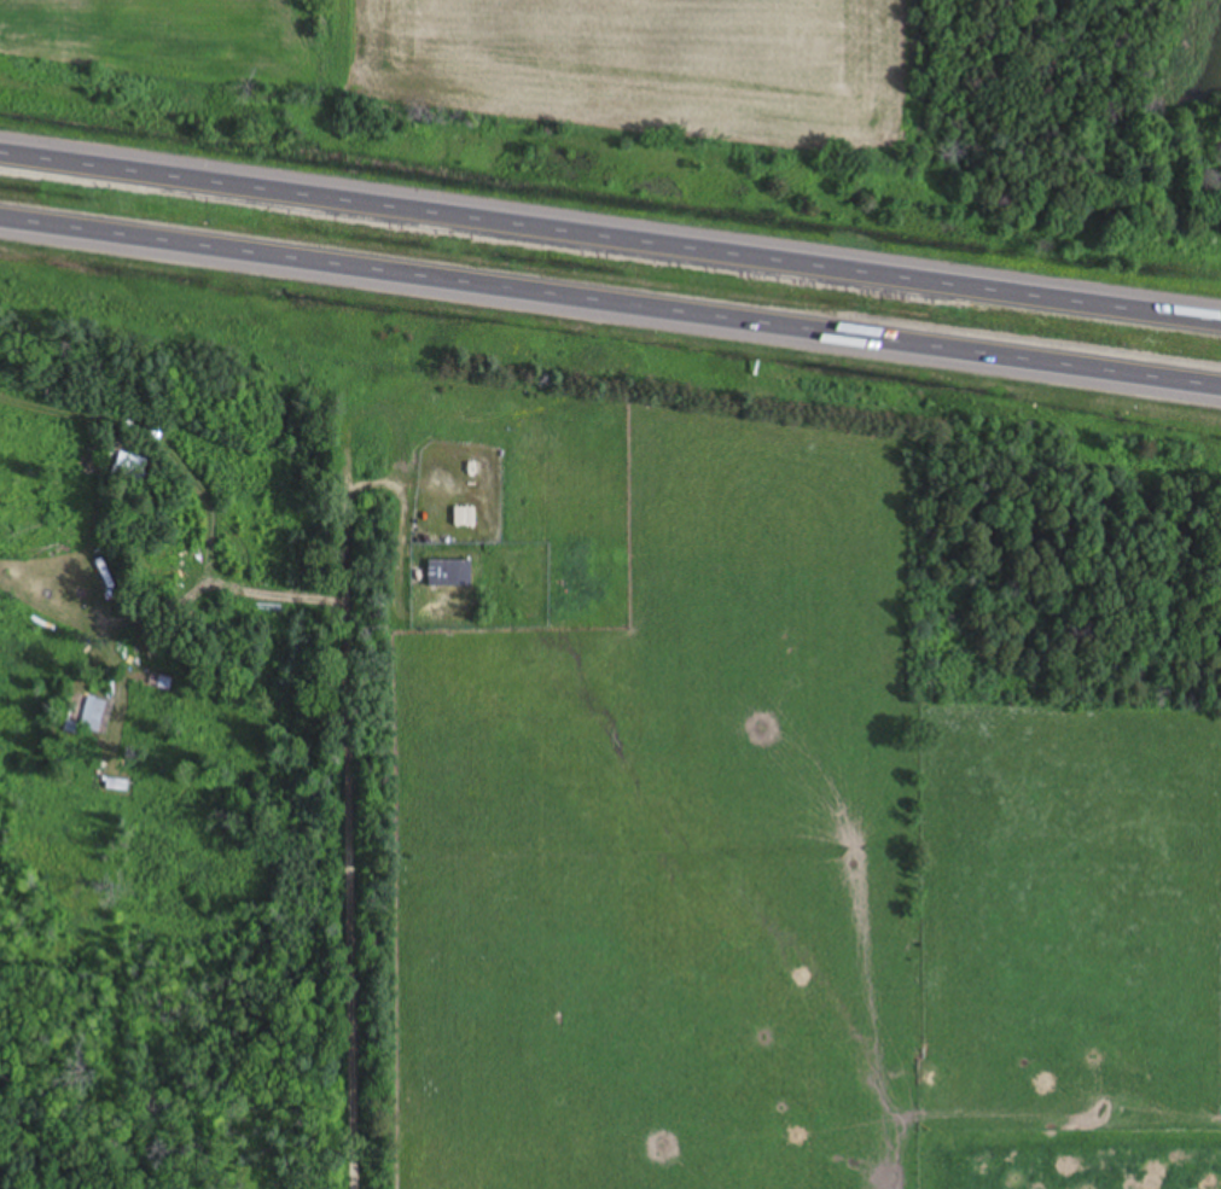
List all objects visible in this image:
crop: (530, 58)
road: (610, 232)
road: (610, 313)
building: (464, 517)
building: (449, 573)
road: (351, 858)

